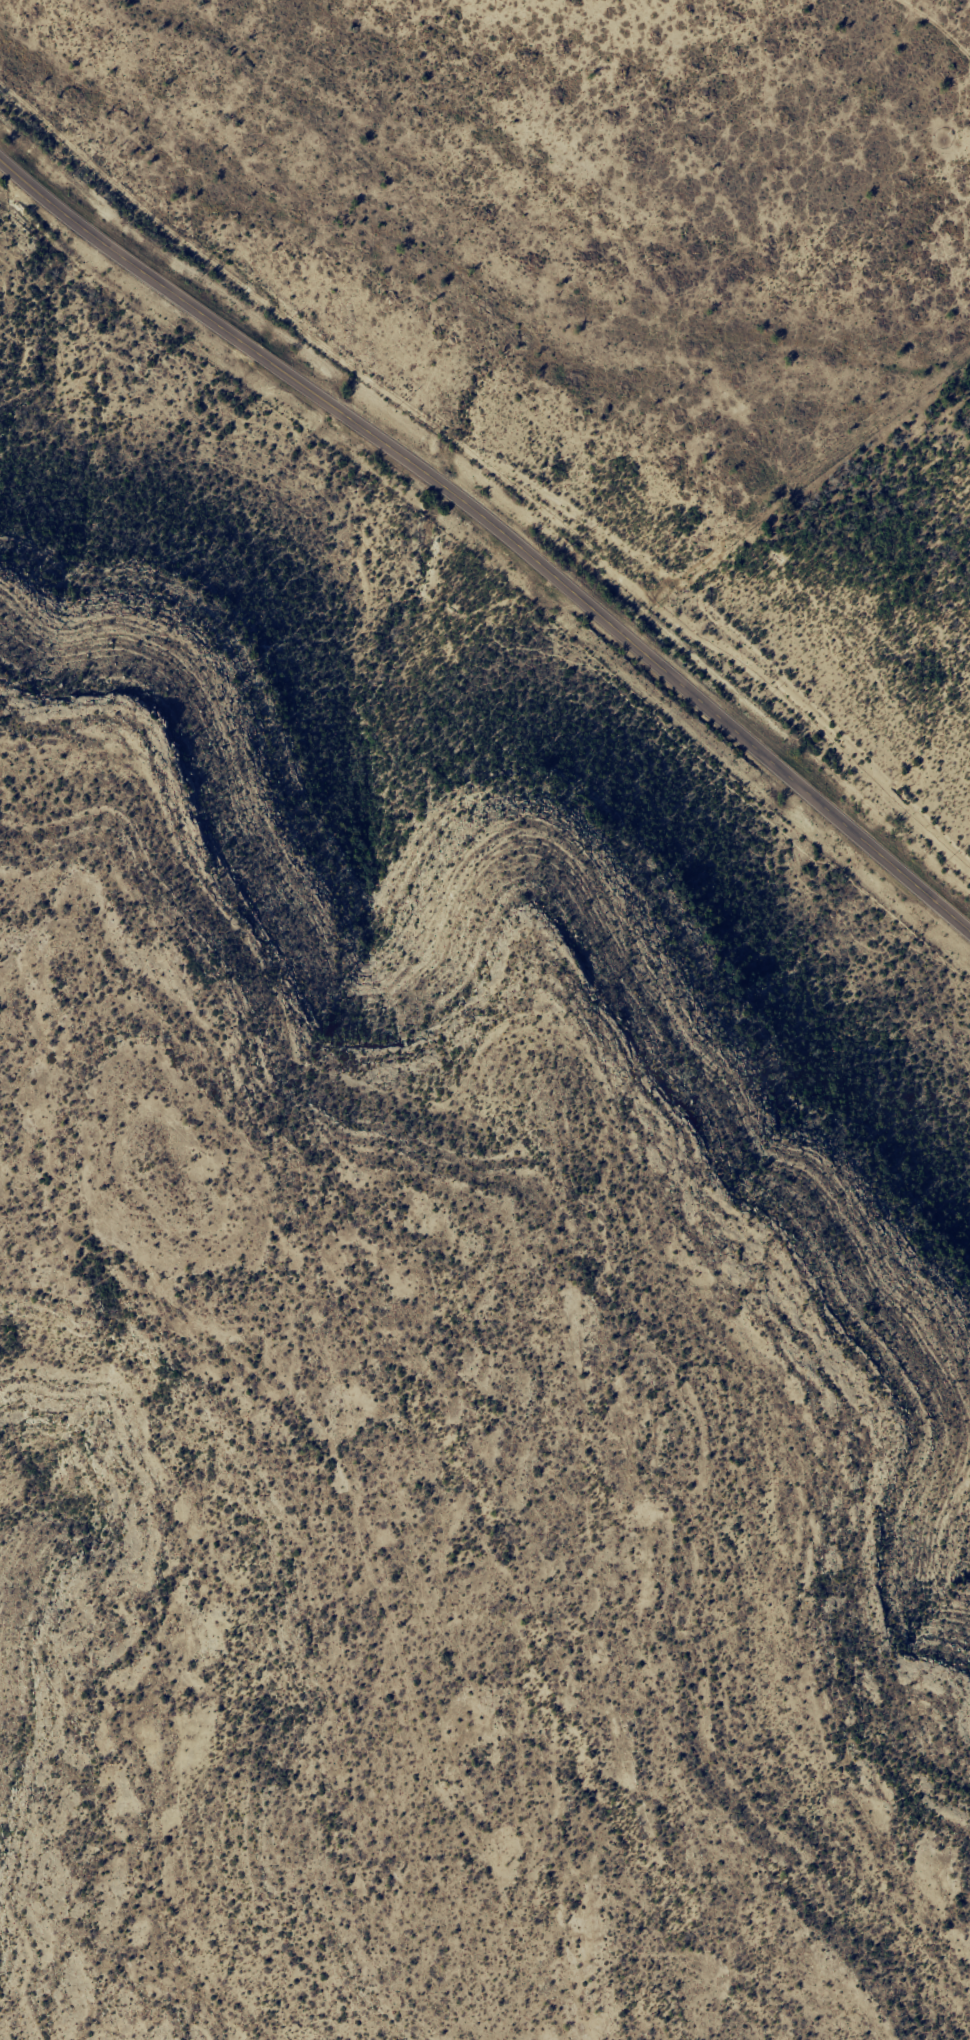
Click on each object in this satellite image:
road: (496, 527)

